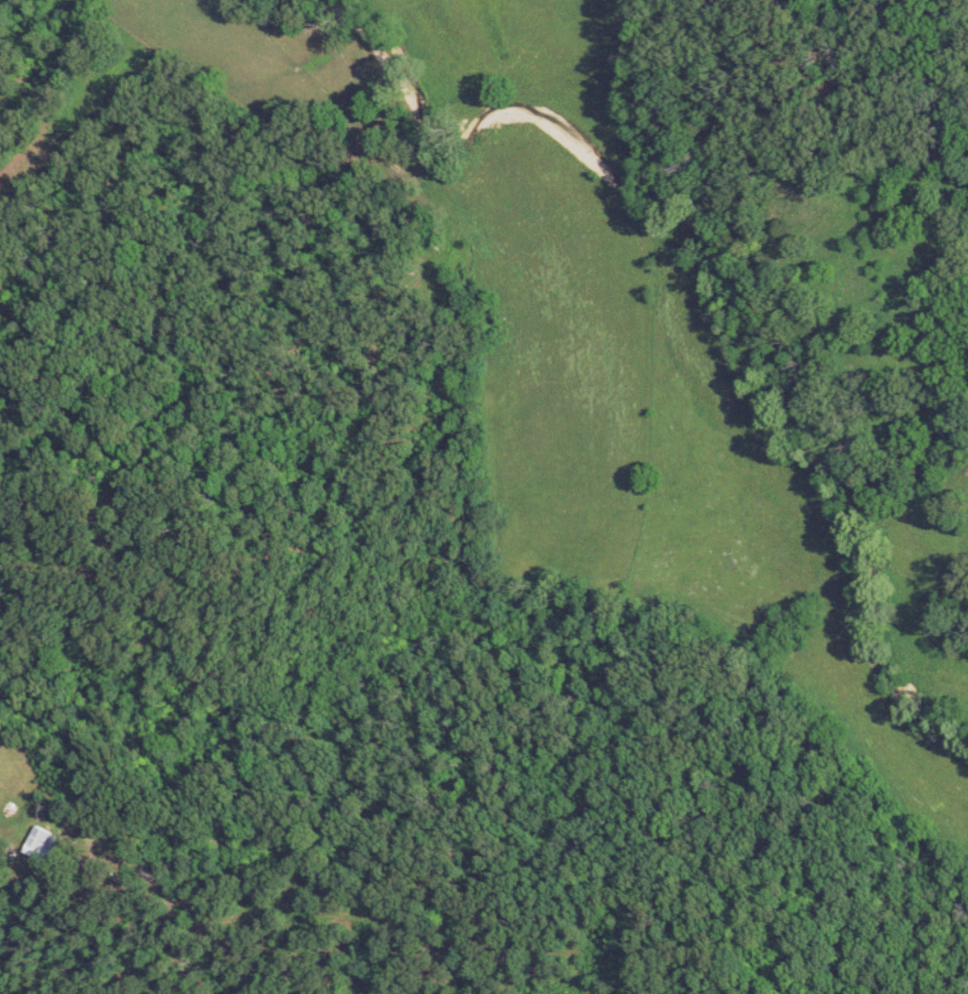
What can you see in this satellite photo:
building: (47, 844)

